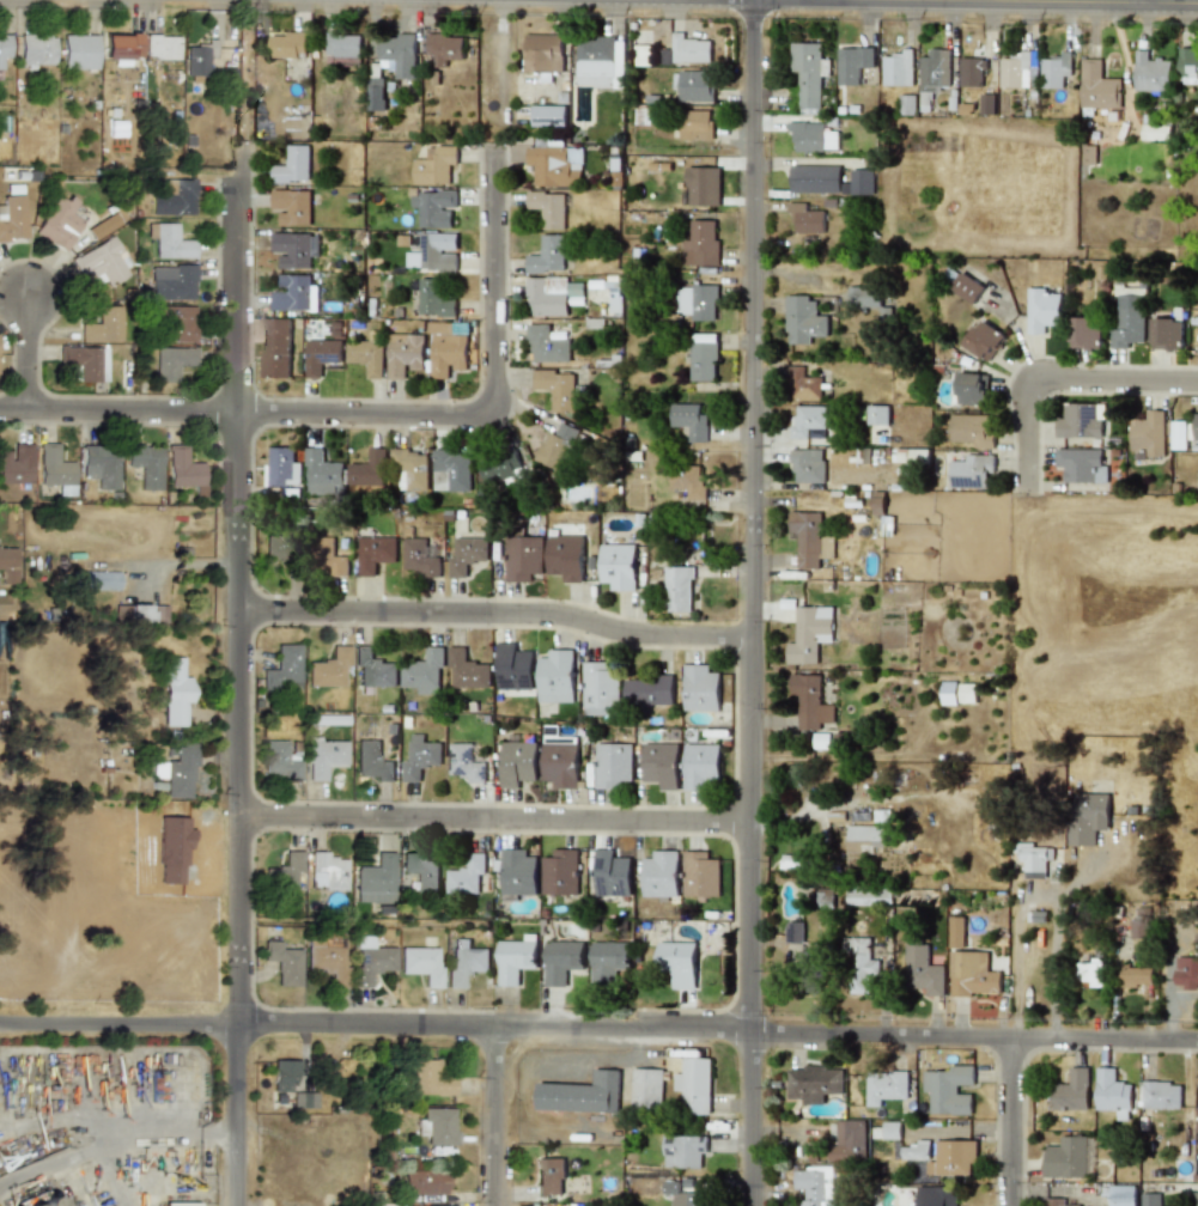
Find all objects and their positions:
road: (547, 0)
road: (1023, 1)
road: (1142, 1)
road: (503, 7)
building: (287, 44)
building: (4, 47)
building: (120, 47)
building: (160, 47)
building: (444, 48)
building: (36, 49)
building: (689, 49)
building: (342, 50)
building: (78, 51)
building: (542, 53)
building: (397, 55)
building: (199, 57)
building: (598, 62)
building: (852, 63)
building: (1187, 66)
road: (499, 67)
building: (898, 68)
road: (239, 69)
building: (934, 71)
building: (1015, 71)
building: (1054, 71)
building: (971, 72)
building: (1150, 73)
building: (808, 75)
building: (694, 86)
building: (1096, 86)
building: (376, 95)
building: (986, 103)
building: (548, 114)
building: (694, 124)
building: (1156, 129)
building: (811, 136)
building: (292, 165)
building: (434, 165)
building: (555, 165)
building: (815, 178)
building: (861, 182)
building: (703, 185)
building: (175, 200)
building: (291, 207)
building: (434, 207)
building: (547, 208)
building: (12, 218)
building: (805, 220)
building: (57, 223)
building: (102, 226)
building: (170, 243)
building: (700, 244)
building: (293, 249)
building: (430, 255)
building: (547, 255)
building: (102, 261)
road: (489, 278)
building: (171, 282)
building: (966, 288)
building: (293, 293)
building: (553, 296)
building: (863, 297)
building: (433, 299)
building: (698, 301)
building: (1041, 310)
building: (1129, 317)
building: (803, 319)
building: (177, 323)
building: (102, 327)
building: (1086, 333)
building: (1167, 334)
building: (984, 340)
building: (547, 346)
building: (275, 347)
building: (446, 348)
road: (32, 352)
building: (403, 354)
building: (321, 355)
building: (366, 357)
building: (703, 357)
building: (85, 361)
building: (170, 363)
road: (1060, 383)
building: (802, 384)
building: (557, 389)
building: (971, 389)
road: (244, 413)
building: (877, 415)
building: (689, 420)
building: (807, 420)
building: (1081, 421)
building: (1194, 426)
building: (971, 430)
building: (1148, 433)
building: (1179, 434)
building: (555, 446)
building: (16, 464)
building: (1078, 464)
building: (99, 465)
building: (146, 465)
building: (807, 465)
building: (282, 468)
building: (500, 468)
building: (55, 469)
building: (182, 469)
building: (369, 469)
building: (412, 469)
building: (452, 470)
building: (966, 471)
building: (322, 474)
building: (687, 481)
building: (809, 540)
building: (279, 546)
building: (373, 553)
building: (467, 555)
building: (420, 558)
building: (522, 558)
building: (565, 558)
building: (330, 559)
road: (181, 565)
building: (7, 566)
building: (618, 566)
building: (96, 580)
building: (679, 589)
road: (752, 603)
building: (139, 613)
road: (498, 614)
building: (809, 634)
building: (328, 668)
building: (513, 668)
building: (372, 669)
building: (282, 670)
building: (467, 670)
road: (242, 672)
building: (422, 672)
building: (555, 677)
building: (700, 688)
building: (600, 689)
building: (174, 692)
building: (649, 692)
building: (947, 693)
building: (967, 693)
building: (809, 702)
building: (324, 756)
building: (419, 757)
building: (279, 760)
building: (371, 761)
building: (467, 761)
building: (517, 763)
building: (560, 765)
building: (613, 765)
building: (661, 765)
building: (700, 766)
building: (178, 772)
building: (1088, 817)
road: (494, 820)
building: (866, 837)
building: (1034, 859)
building: (326, 871)
building: (420, 871)
building: (287, 872)
building: (559, 872)
building: (517, 873)
building: (610, 875)
building: (659, 875)
building: (699, 875)
building: (466, 876)
building: (375, 881)
building: (868, 895)
building: (1138, 927)
building: (793, 932)
building: (956, 932)
road: (1057, 942)
building: (516, 958)
building: (561, 961)
building: (328, 962)
building: (464, 962)
building: (607, 962)
building: (679, 962)
building: (282, 963)
building: (371, 963)
building: (421, 964)
building: (861, 964)
building: (922, 969)
building: (1093, 971)
building: (1185, 973)
building: (972, 974)
building: (1136, 975)
road: (598, 1031)
road: (637, 1049)
road: (583, 1065)
building: (284, 1074)
building: (428, 1078)
building: (813, 1083)
building: (694, 1084)
building: (646, 1086)
building: (884, 1086)
building: (948, 1090)
building: (1071, 1091)
building: (1111, 1092)
building: (580, 1094)
building: (1161, 1095)
road: (522, 1097)
building: (304, 1100)
road: (494, 1117)
road: (1010, 1121)
building: (437, 1126)
building: (890, 1129)
road: (562, 1133)
road: (116, 1140)
building: (847, 1141)
building: (683, 1151)
building: (914, 1151)
building: (1090, 1156)
building: (951, 1158)
building: (1065, 1158)
road: (110, 1175)
building: (549, 1176)
building: (422, 1183)
building: (813, 1186)
building: (683, 1195)
building: (1121, 1195)
building: (936, 1196)
building: (1150, 1199)
building: (1196, 1199)
building: (42, 1201)
building: (1054, 1202)
building: (178, 1204)

